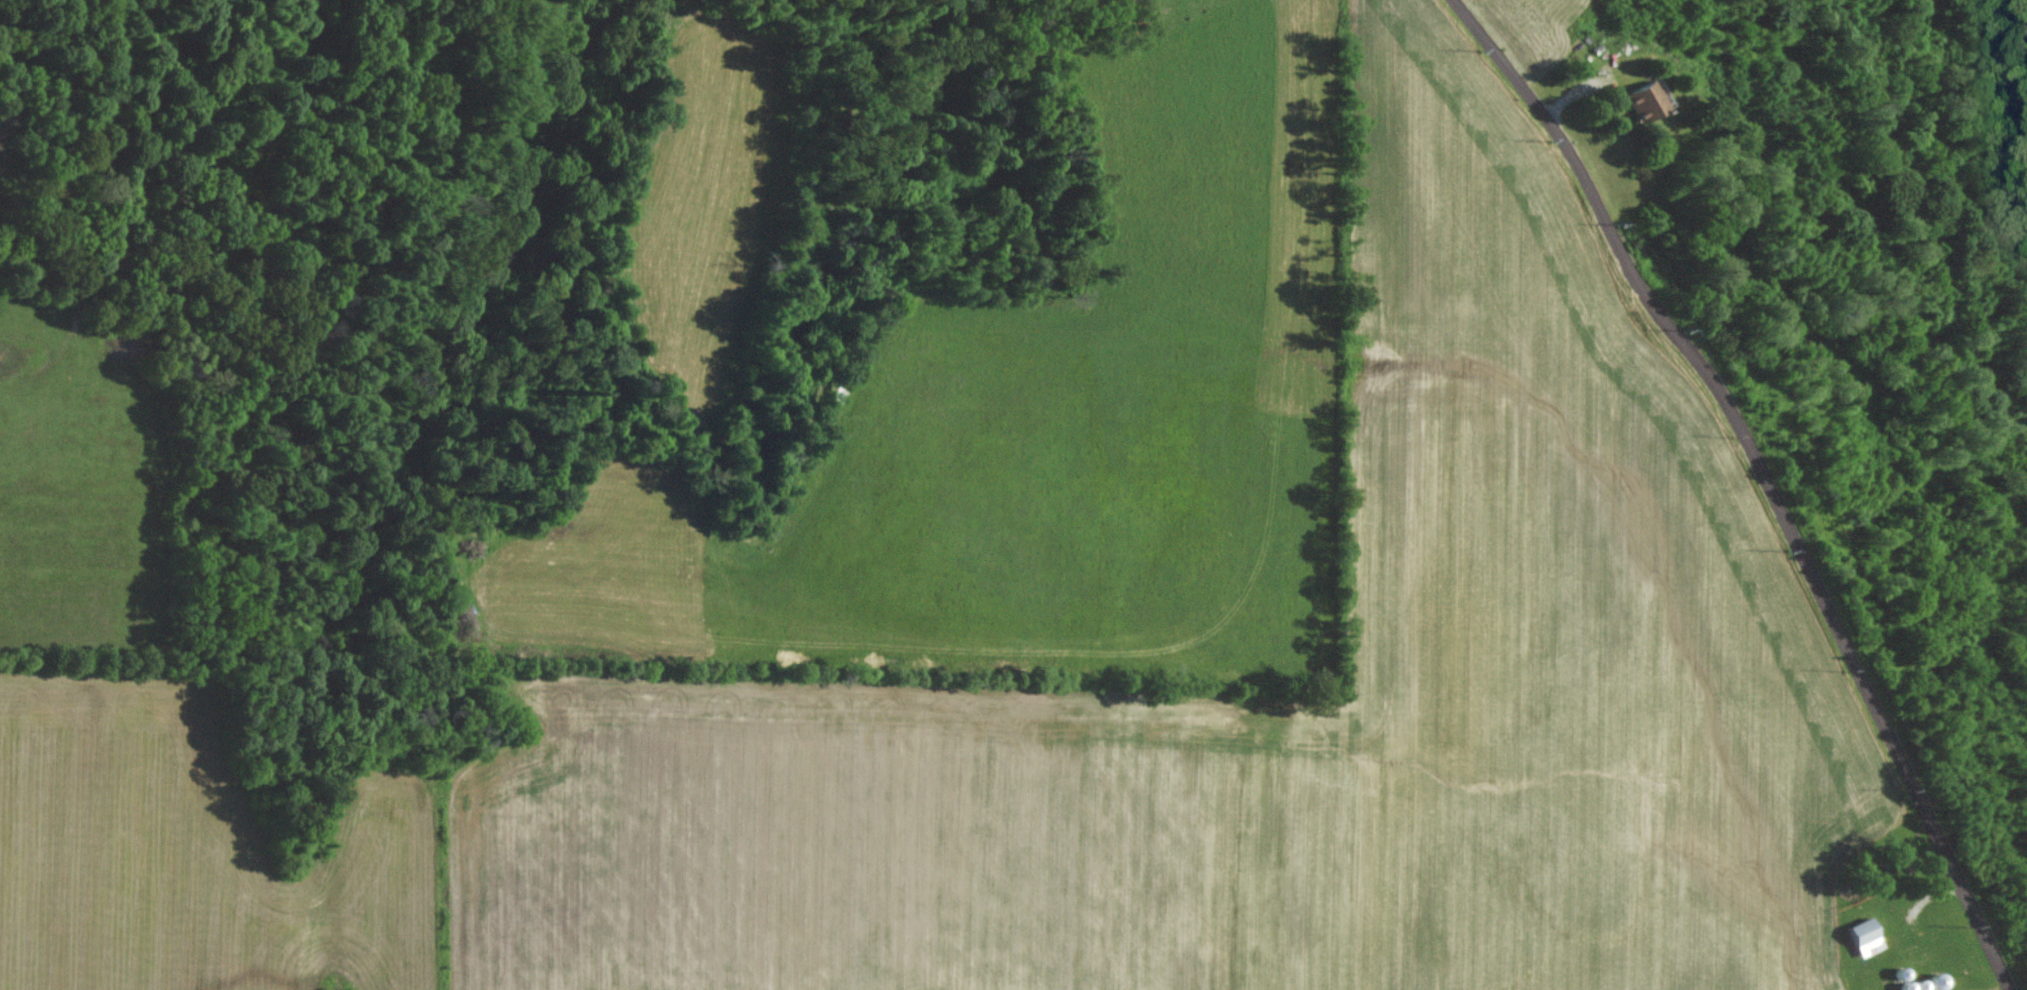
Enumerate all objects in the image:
building: (1647, 97)
road: (1764, 475)
building: (1864, 936)

